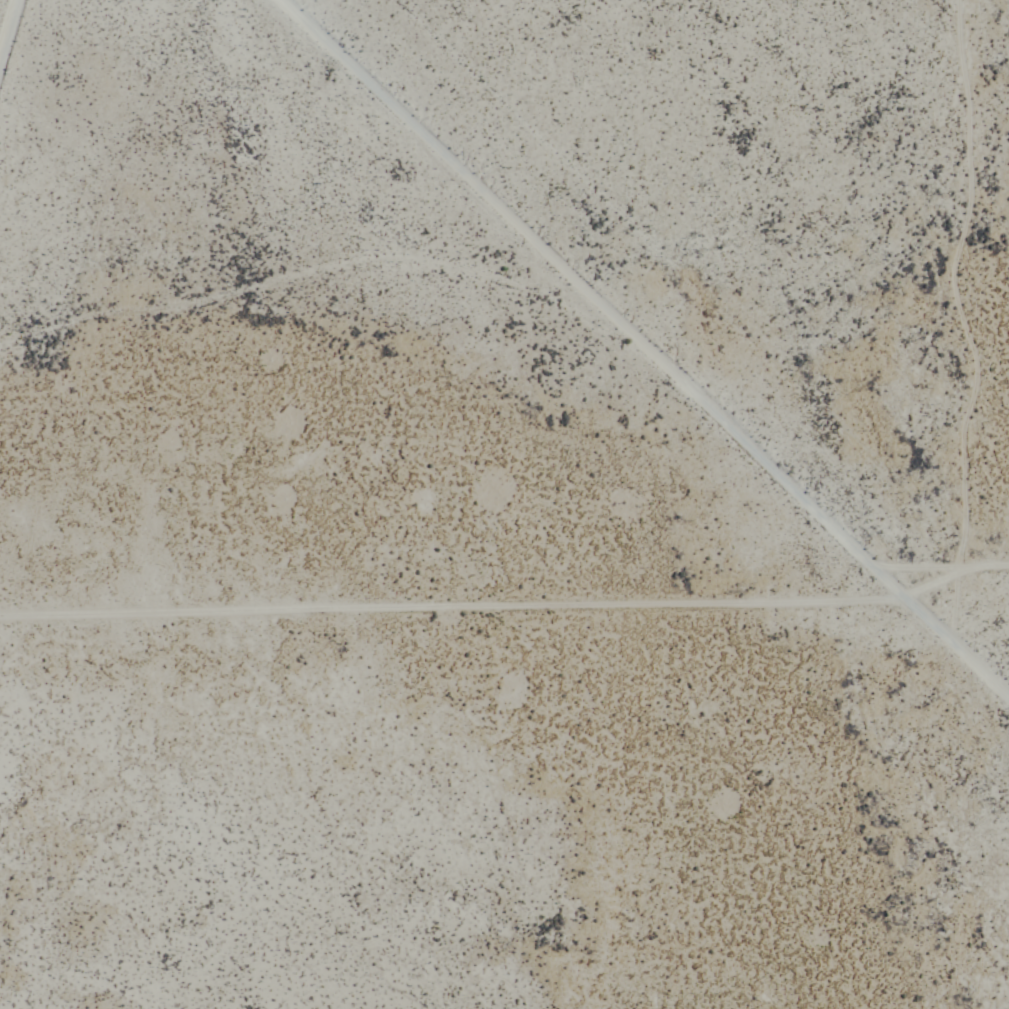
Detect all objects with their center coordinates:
road: (641, 350)
road: (957, 600)
road: (453, 604)

